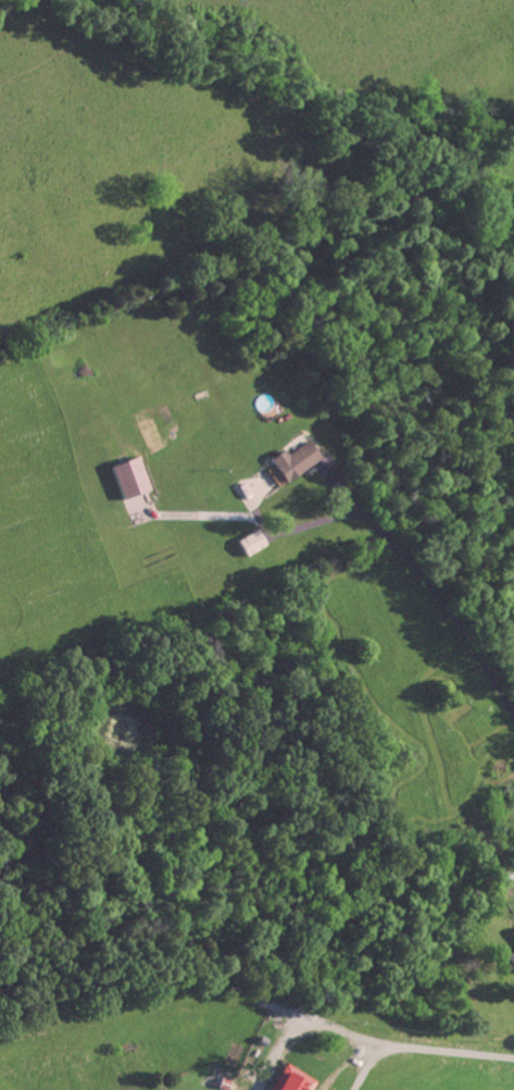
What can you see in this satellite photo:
building: (287, 460)
building: (125, 476)
road: (440, 600)
building: (509, 954)
road: (300, 1025)
road: (446, 1050)
road: (365, 1065)
building: (285, 1079)

